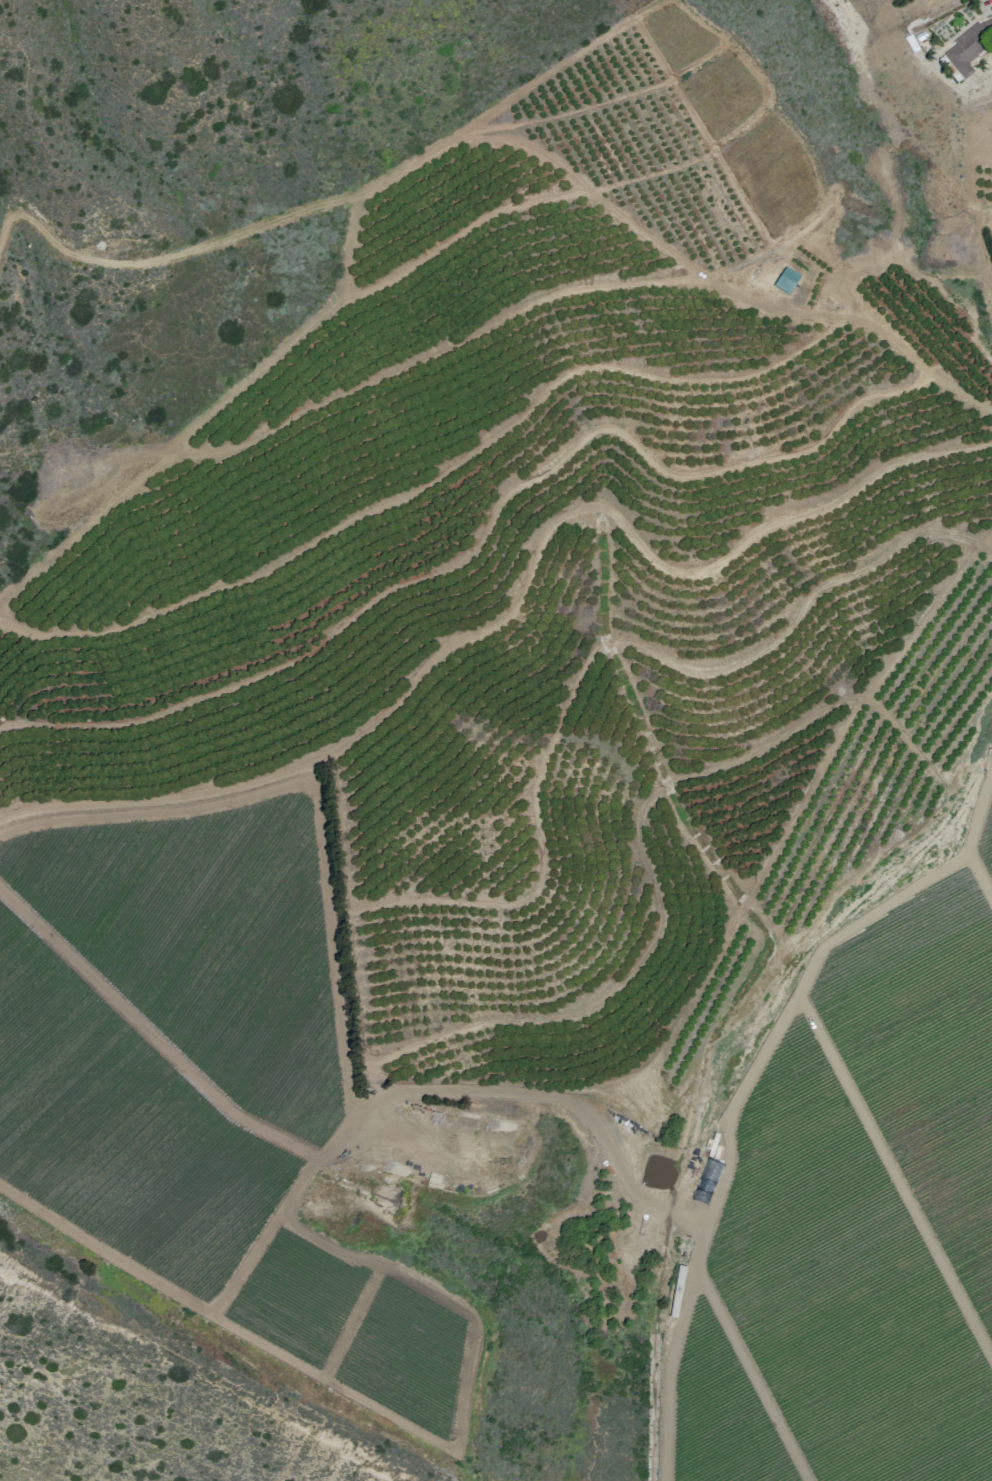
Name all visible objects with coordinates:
building: (969, 47)
road: (561, 115)
road: (375, 183)
road: (518, 204)
road: (978, 246)
road: (172, 256)
road: (713, 283)
road: (408, 364)
road: (430, 482)
road: (484, 533)
road: (517, 597)
road: (598, 645)
road: (315, 791)
road: (804, 795)
crop: (985, 843)
road: (979, 876)
road: (660, 914)
crop: (205, 944)
road: (790, 1003)
road: (150, 1034)
crop: (925, 1060)
road: (431, 1090)
crop: (122, 1129)
road: (895, 1175)
road: (104, 1250)
crop: (842, 1289)
crop: (296, 1298)
road: (351, 1321)
crop: (406, 1357)
road: (752, 1375)
road: (667, 1391)
crop: (721, 1412)
road: (462, 1413)

